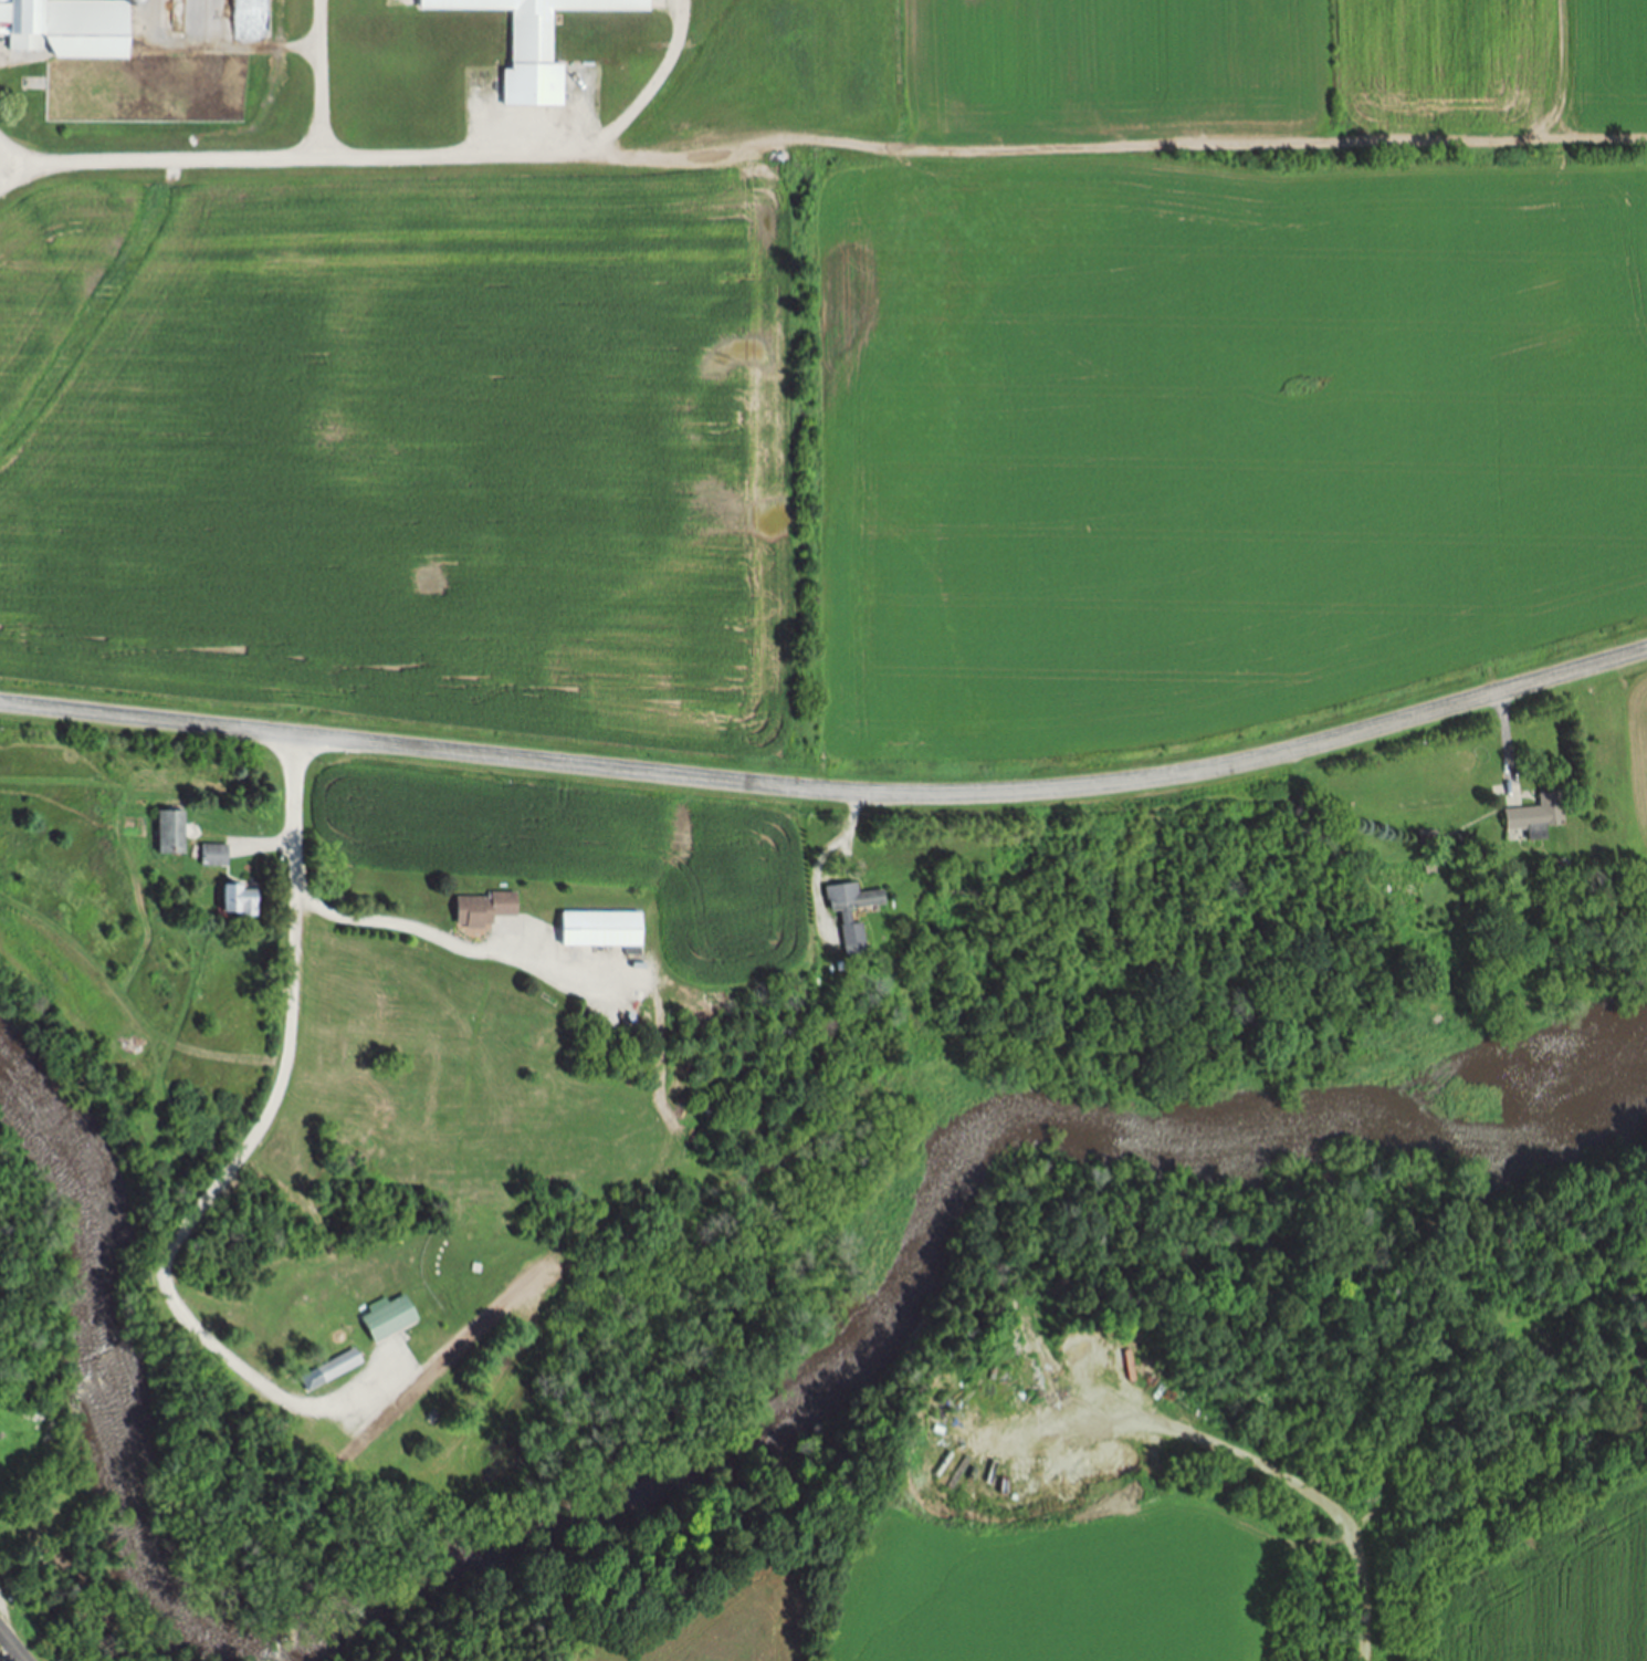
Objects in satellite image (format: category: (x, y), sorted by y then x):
building: (67, 29)
building: (535, 42)
road: (314, 79)
road: (8, 150)
road: (546, 155)
road: (154, 160)
road: (1504, 742)
road: (830, 791)
building: (1536, 817)
building: (172, 833)
road: (274, 843)
building: (214, 856)
road: (817, 857)
building: (240, 901)
building: (486, 910)
building: (843, 918)
building: (604, 930)
road: (449, 944)
road: (266, 1115)
river: (1115, 1132)
building: (390, 1318)
building: (331, 1371)
river: (112, 1377)
road: (1284, 1477)
river: (522, 1546)
road: (9, 1649)
road: (7, 1657)

